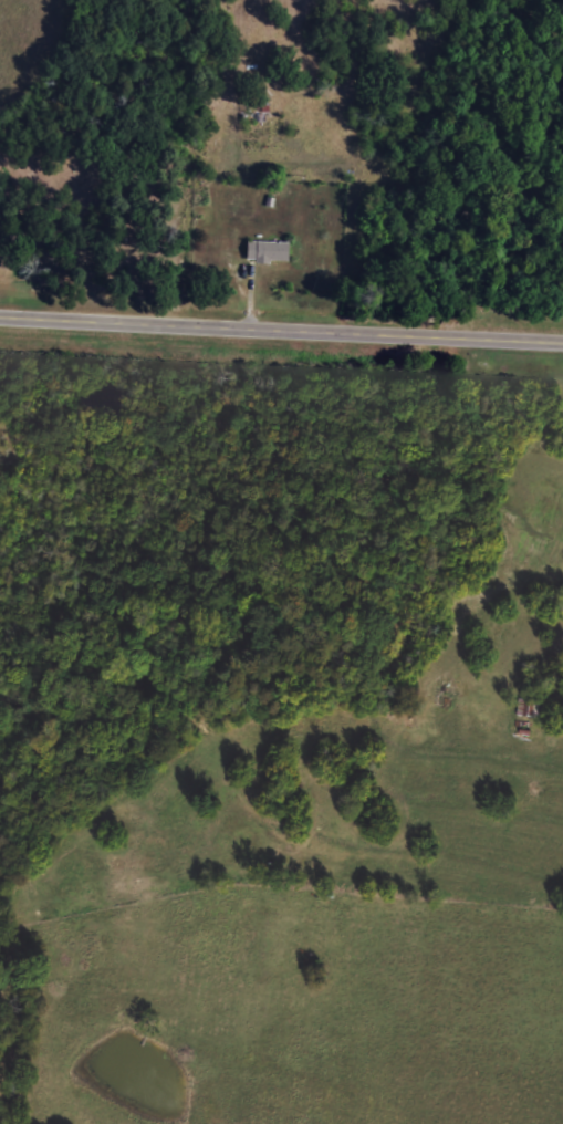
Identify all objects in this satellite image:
road: (219, 166)
building: (267, 252)
road: (281, 327)
building: (529, 709)

